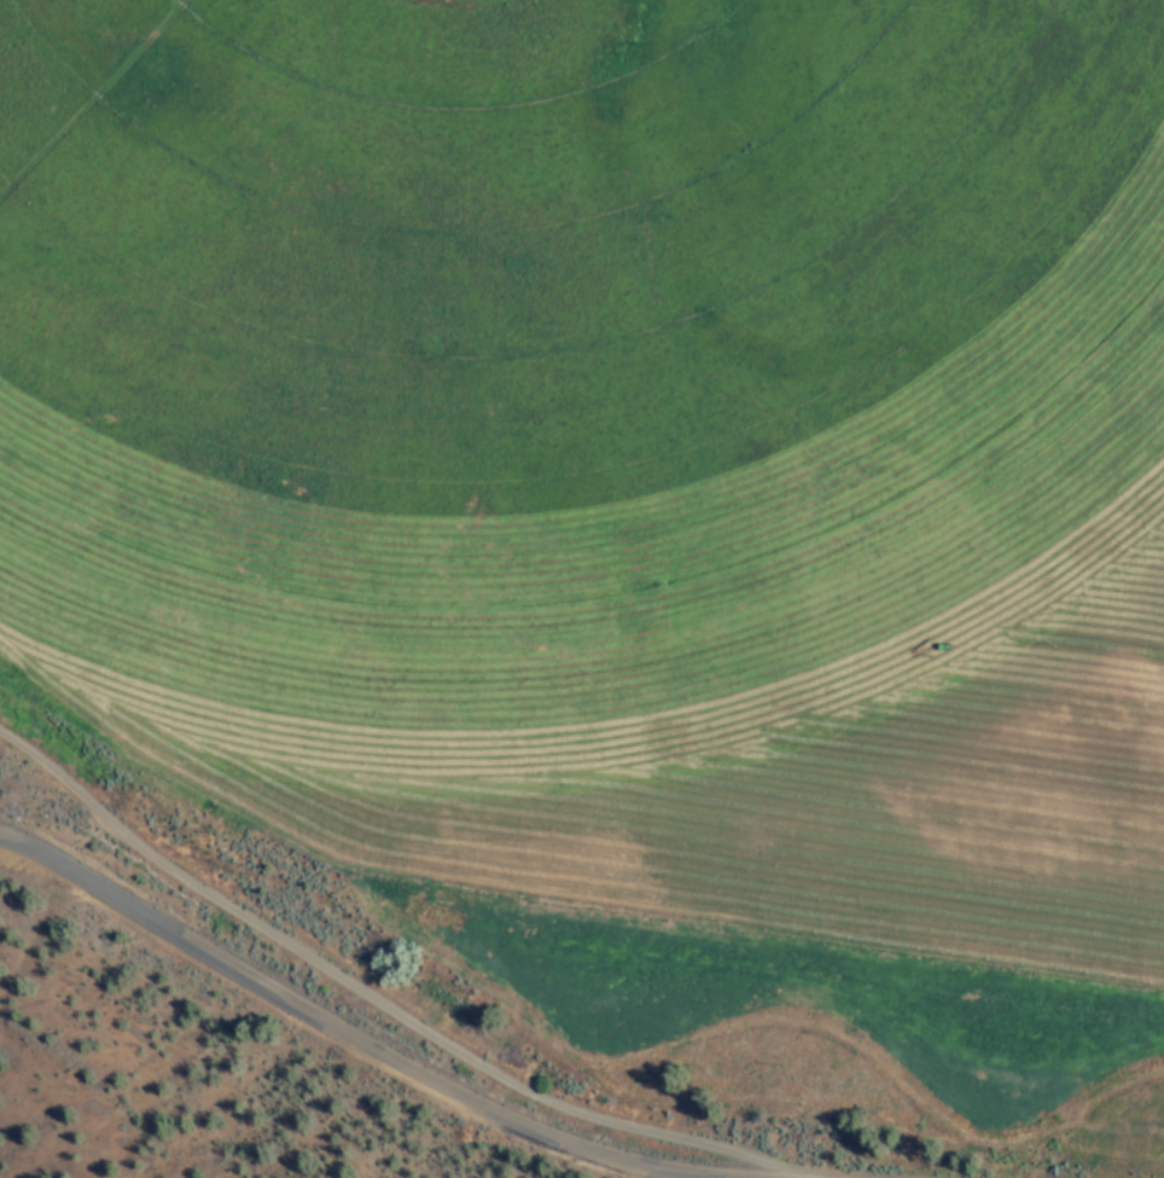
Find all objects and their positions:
road: (273, 979)
road: (159, 1069)
road: (564, 1155)
road: (843, 1155)

